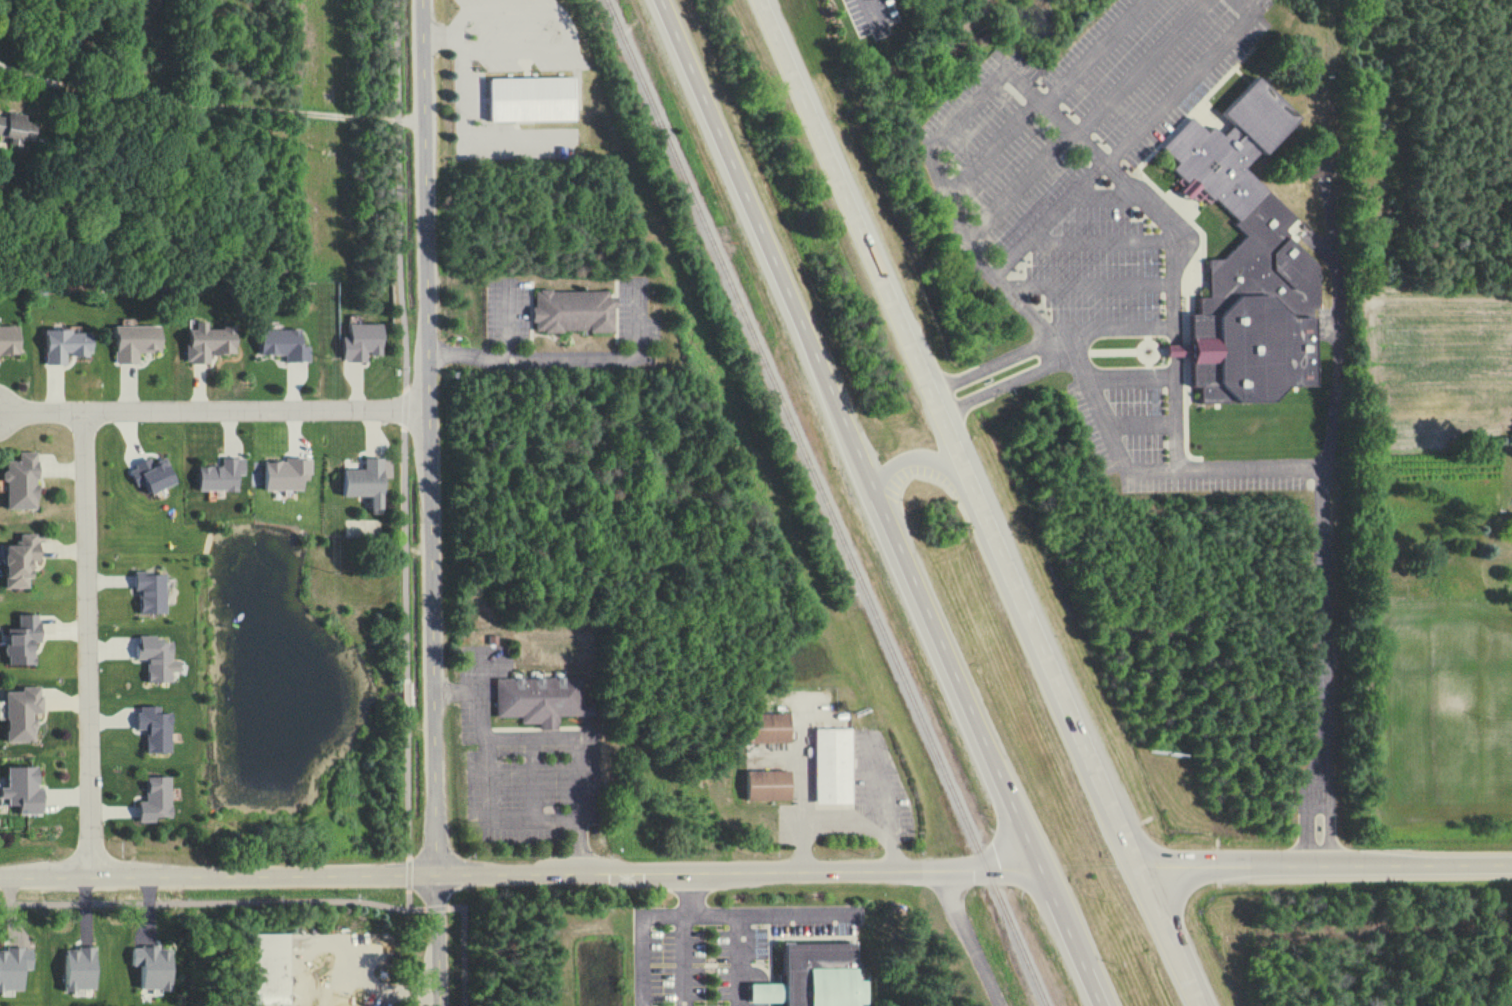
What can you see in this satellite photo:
road: (1093, 51)
road: (1001, 69)
building: (533, 99)
road: (212, 103)
building: (17, 128)
road: (1125, 138)
building: (1250, 262)
building: (575, 311)
road: (509, 324)
road: (1115, 328)
building: (8, 339)
building: (136, 342)
building: (208, 342)
building: (362, 342)
building: (284, 344)
building: (66, 345)
road: (1176, 348)
road: (1338, 348)
road: (568, 361)
road: (992, 362)
road: (1131, 372)
road: (1003, 384)
road: (1177, 412)
road: (214, 414)
road: (923, 459)
road: (1153, 468)
building: (286, 474)
building: (153, 475)
building: (222, 475)
building: (23, 482)
building: (367, 483)
road: (881, 502)
road: (431, 503)
railway: (824, 503)
road: (977, 503)
building: (23, 561)
building: (152, 591)
building: (24, 640)
road: (87, 647)
building: (158, 658)
road: (1319, 665)
building: (539, 699)
building: (23, 713)
road: (833, 722)
building: (773, 728)
building: (156, 729)
road: (575, 737)
building: (835, 766)
road: (531, 781)
building: (771, 785)
building: (25, 790)
building: (157, 799)
road: (487, 803)
road: (844, 821)
road: (1323, 865)
road: (519, 870)
road: (748, 913)
road: (641, 936)
road: (968, 938)
building: (273, 951)
road: (689, 960)
road: (739, 960)
building: (154, 967)
building: (14, 969)
building: (80, 969)
building: (818, 978)
road: (383, 988)

